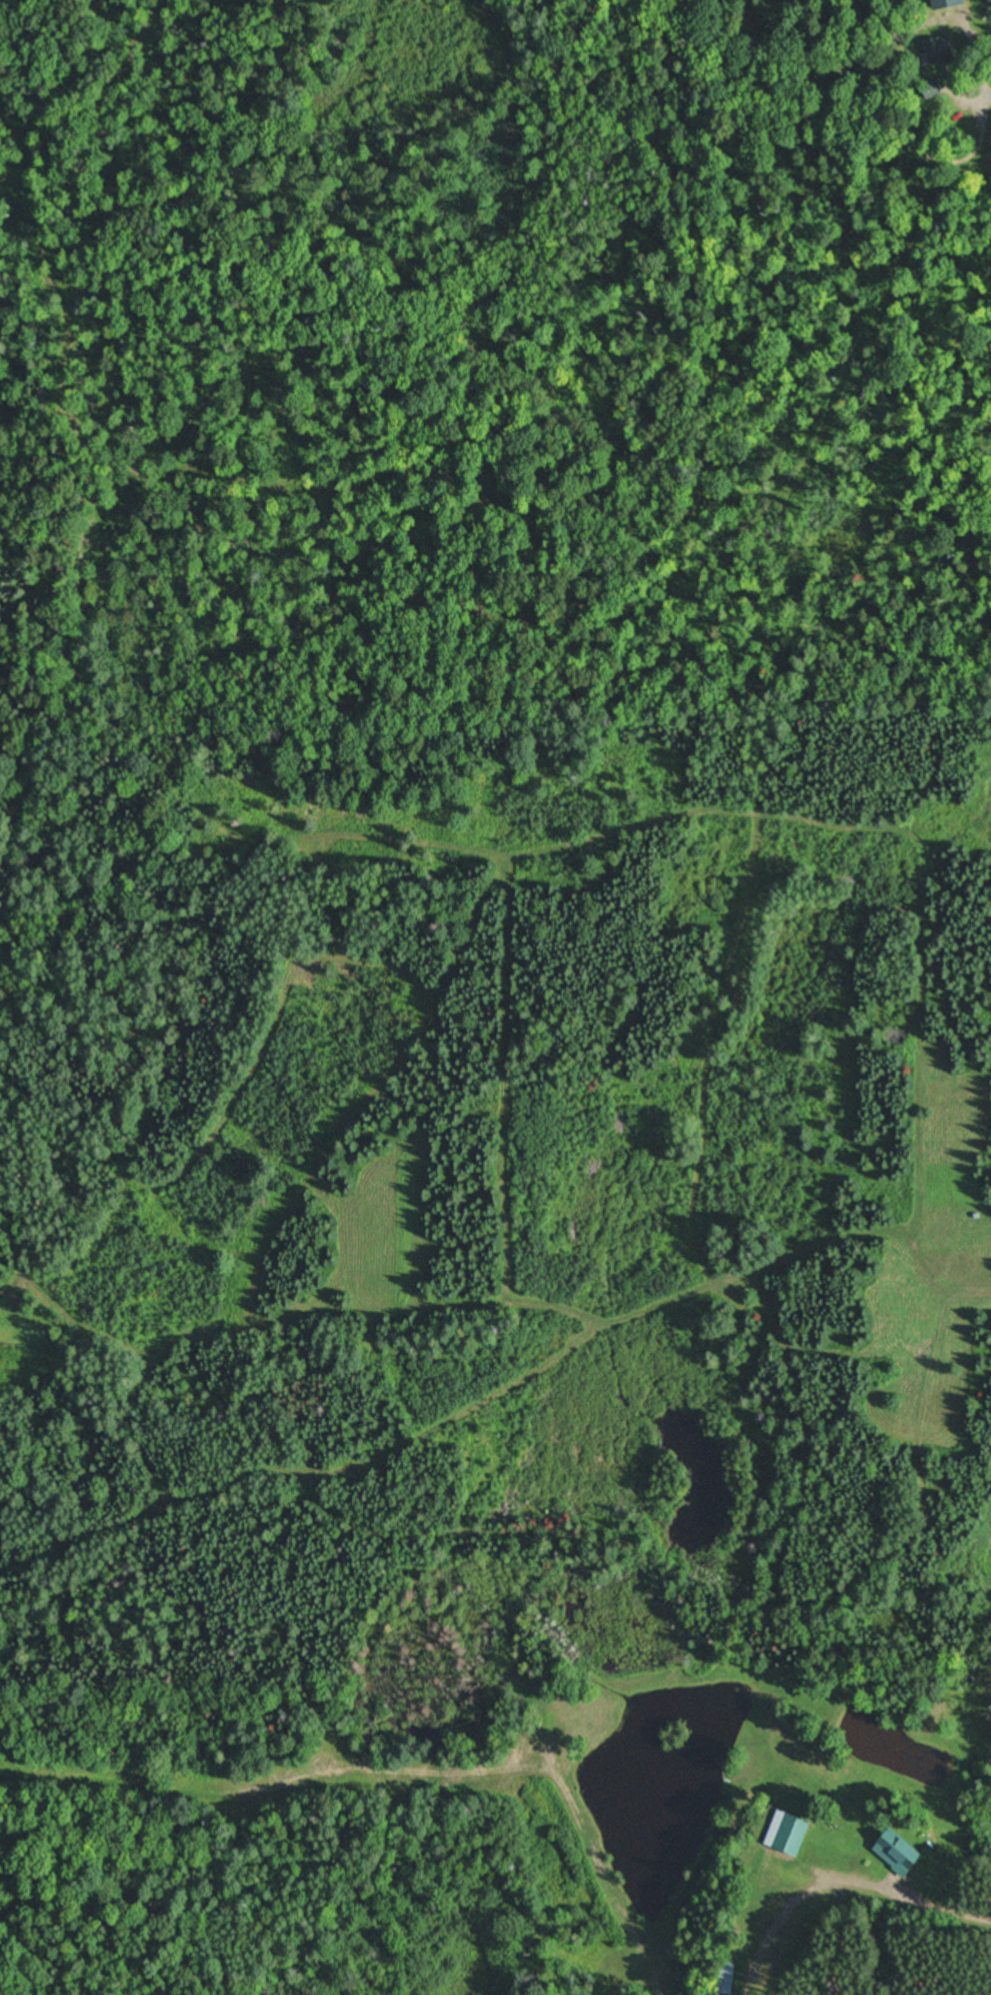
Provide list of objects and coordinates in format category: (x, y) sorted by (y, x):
building: (933, 90)
building: (785, 1835)
building: (894, 1852)
building: (724, 1981)

